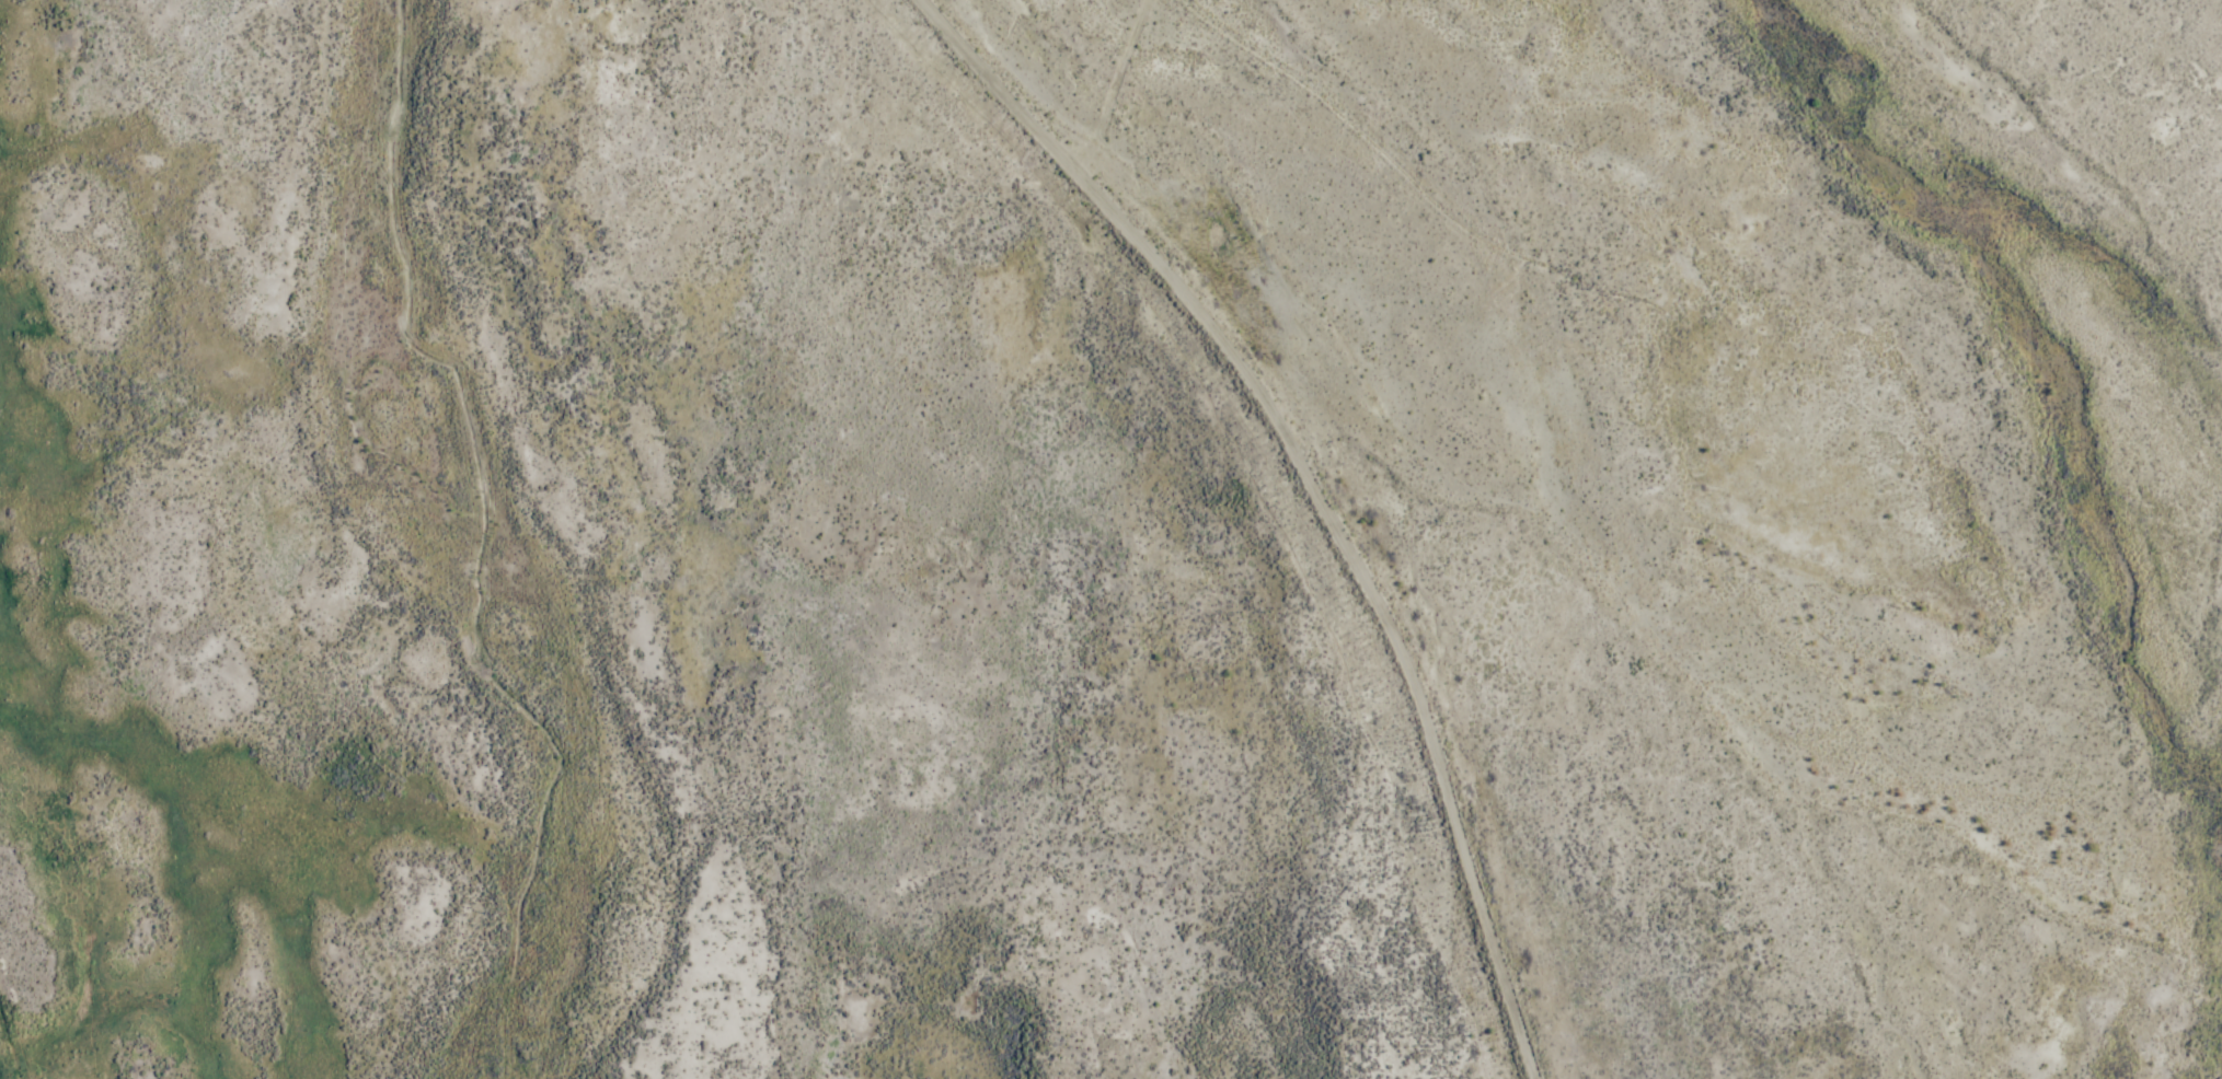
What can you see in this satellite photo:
road: (1095, 88)
road: (1293, 490)

